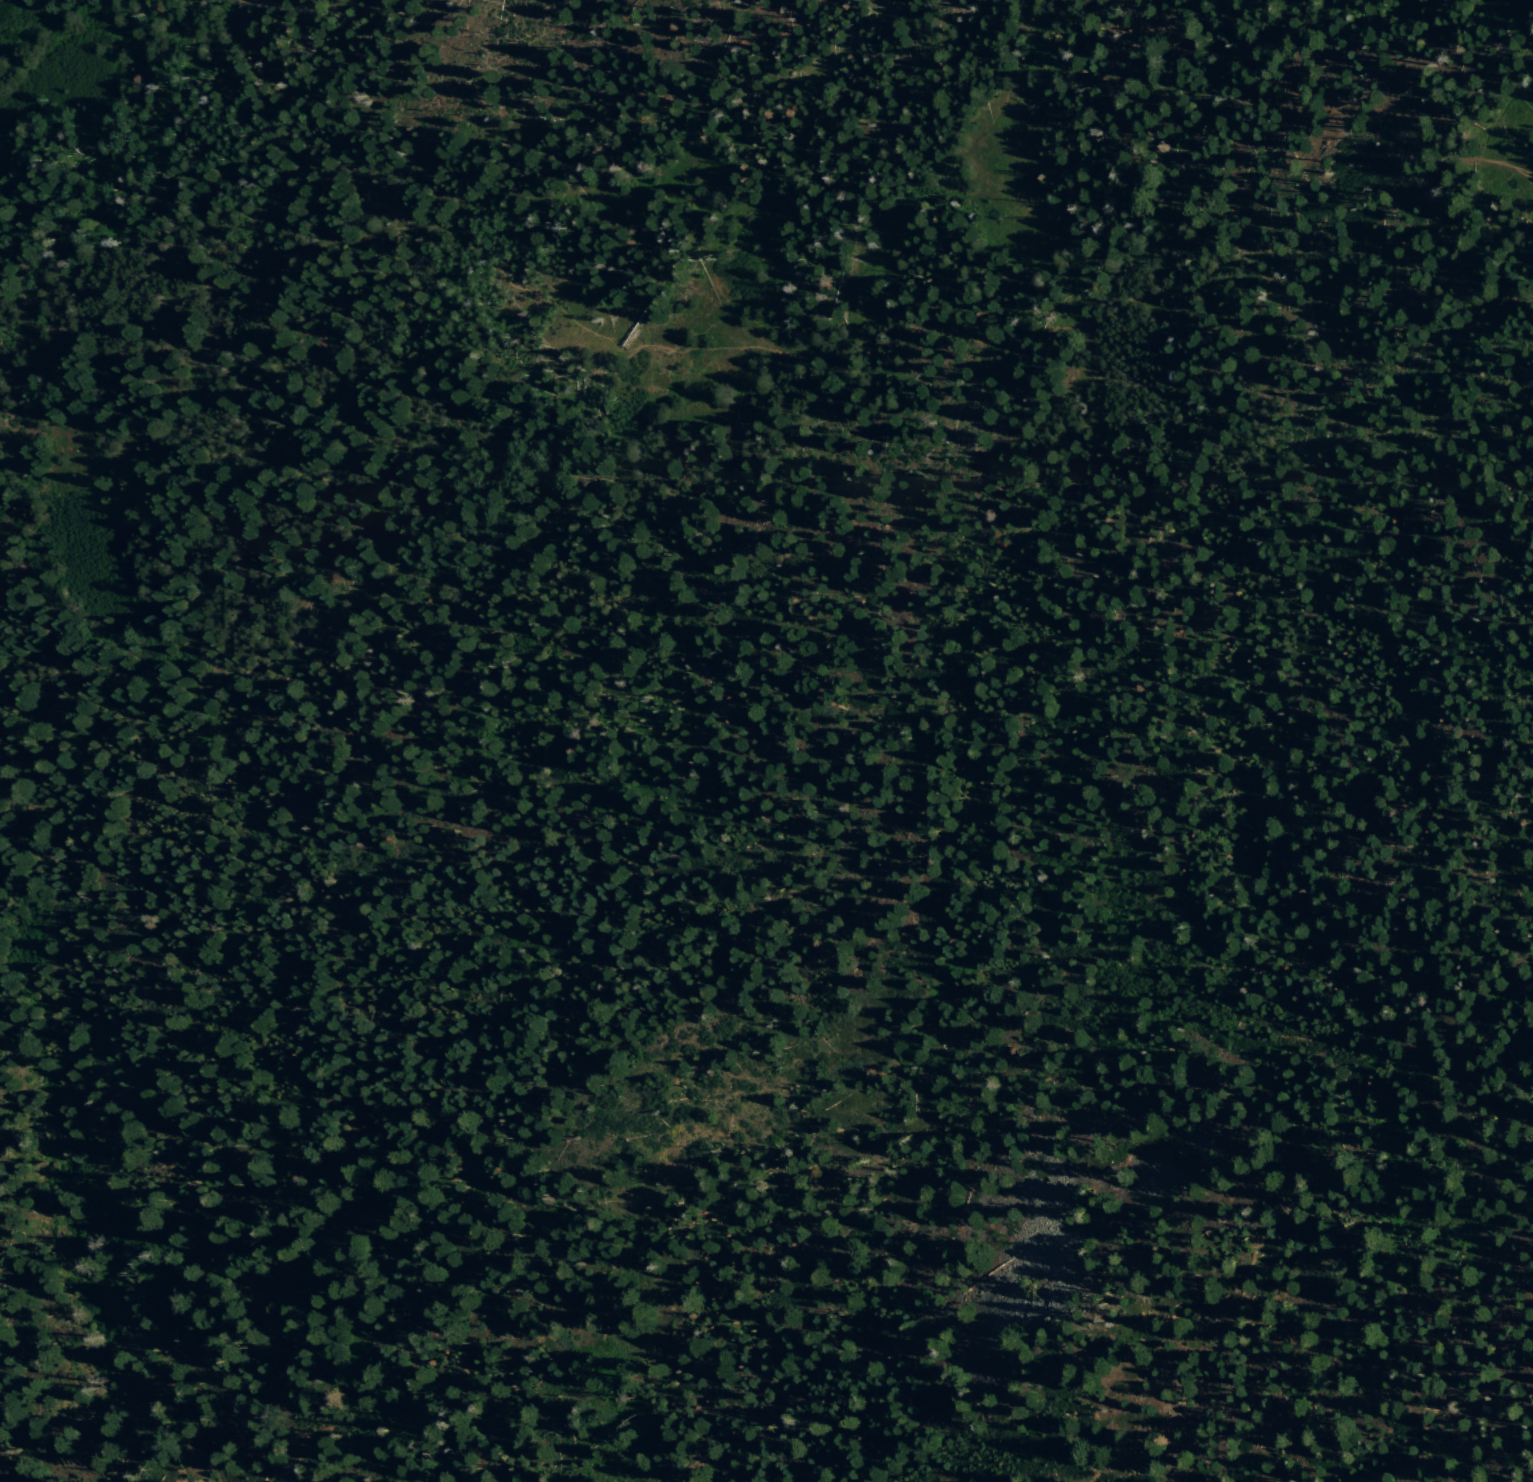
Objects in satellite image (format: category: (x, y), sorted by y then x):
road: (1326, 102)
road: (752, 348)

